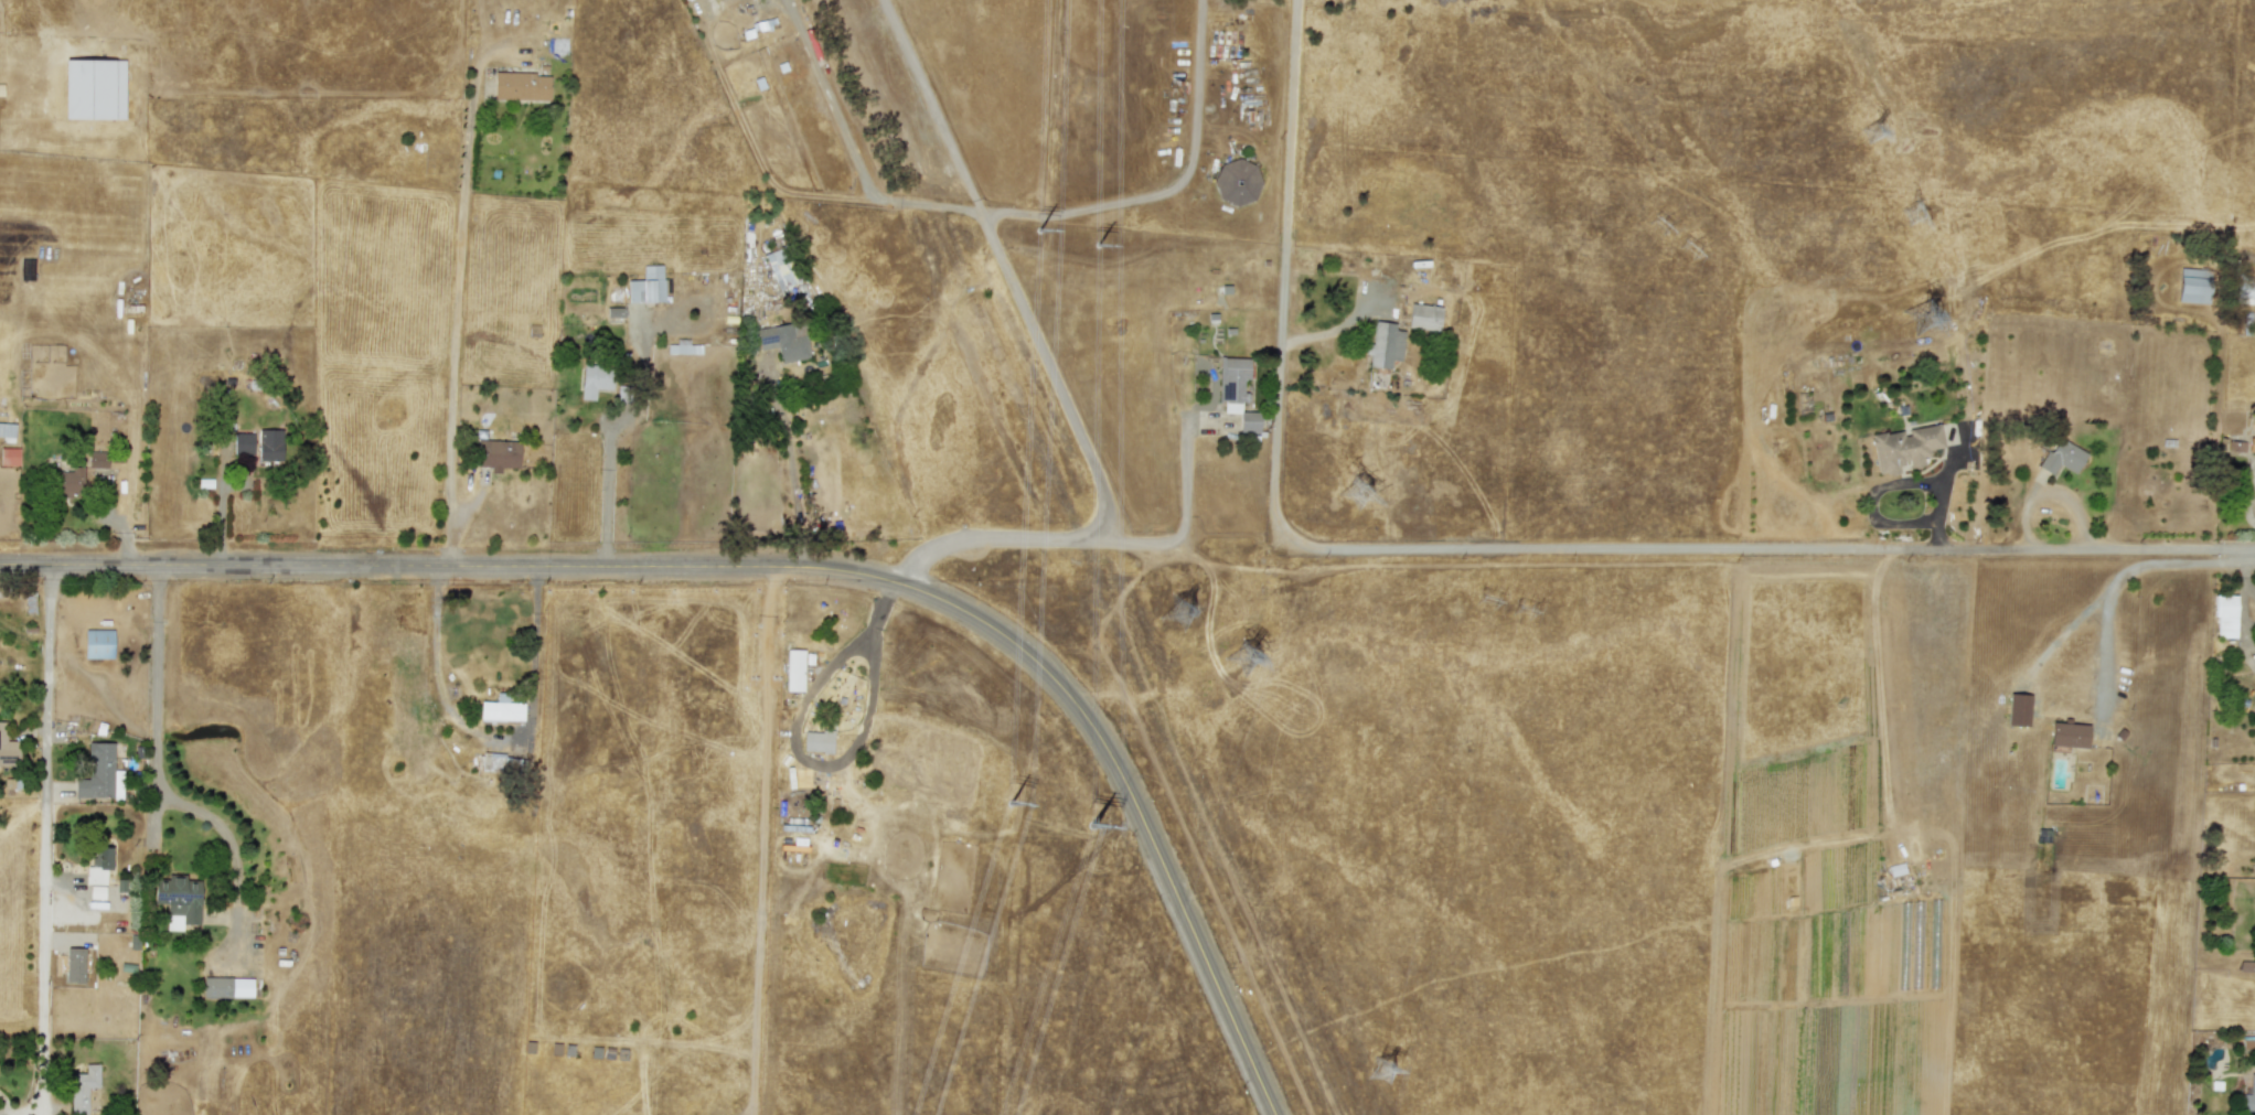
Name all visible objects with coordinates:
building: (521, 87)
power tower: (1872, 135)
road: (851, 142)
building: (1238, 182)
road: (1173, 187)
power tower: (1913, 217)
power tower: (1660, 227)
power tower: (1690, 251)
building: (780, 269)
road: (1005, 269)
road: (1284, 271)
building: (646, 286)
building: (2192, 286)
building: (2244, 293)
building: (614, 312)
building: (1424, 318)
power tower: (1920, 322)
road: (453, 340)
building: (784, 341)
building: (1385, 345)
building: (683, 347)
building: (1232, 379)
building: (594, 383)
building: (1249, 421)
building: (7, 429)
building: (242, 443)
building: (268, 444)
building: (2252, 444)
road: (131, 447)
building: (1904, 448)
building: (496, 454)
building: (9, 457)
building: (2062, 457)
building: (96, 459)
road: (1186, 462)
road: (788, 465)
road: (608, 467)
building: (68, 484)
road: (1942, 490)
power tower: (1357, 494)
road: (1868, 507)
building: (2254, 511)
road: (1027, 536)
road: (1763, 550)
road: (2247, 555)
road: (787, 567)
road: (2113, 585)
power tower: (1486, 603)
power tower: (1522, 613)
power tower: (1178, 614)
building: (2224, 617)
building: (98, 644)
power tower: (1244, 658)
building: (793, 671)
building: (2254, 671)
building: (500, 709)
building: (2018, 709)
building: (2069, 735)
road: (492, 739)
building: (817, 742)
building: (8, 749)
road: (798, 749)
road: (156, 757)
building: (502, 764)
building: (96, 772)
crop: (1325, 773)
road: (762, 839)
road: (46, 840)
building: (97, 866)
building: (96, 892)
building: (178, 900)
building: (1987, 934)
building: (74, 965)
building: (227, 987)
power tower: (1382, 1072)
building: (82, 1089)
building: (2249, 1097)

